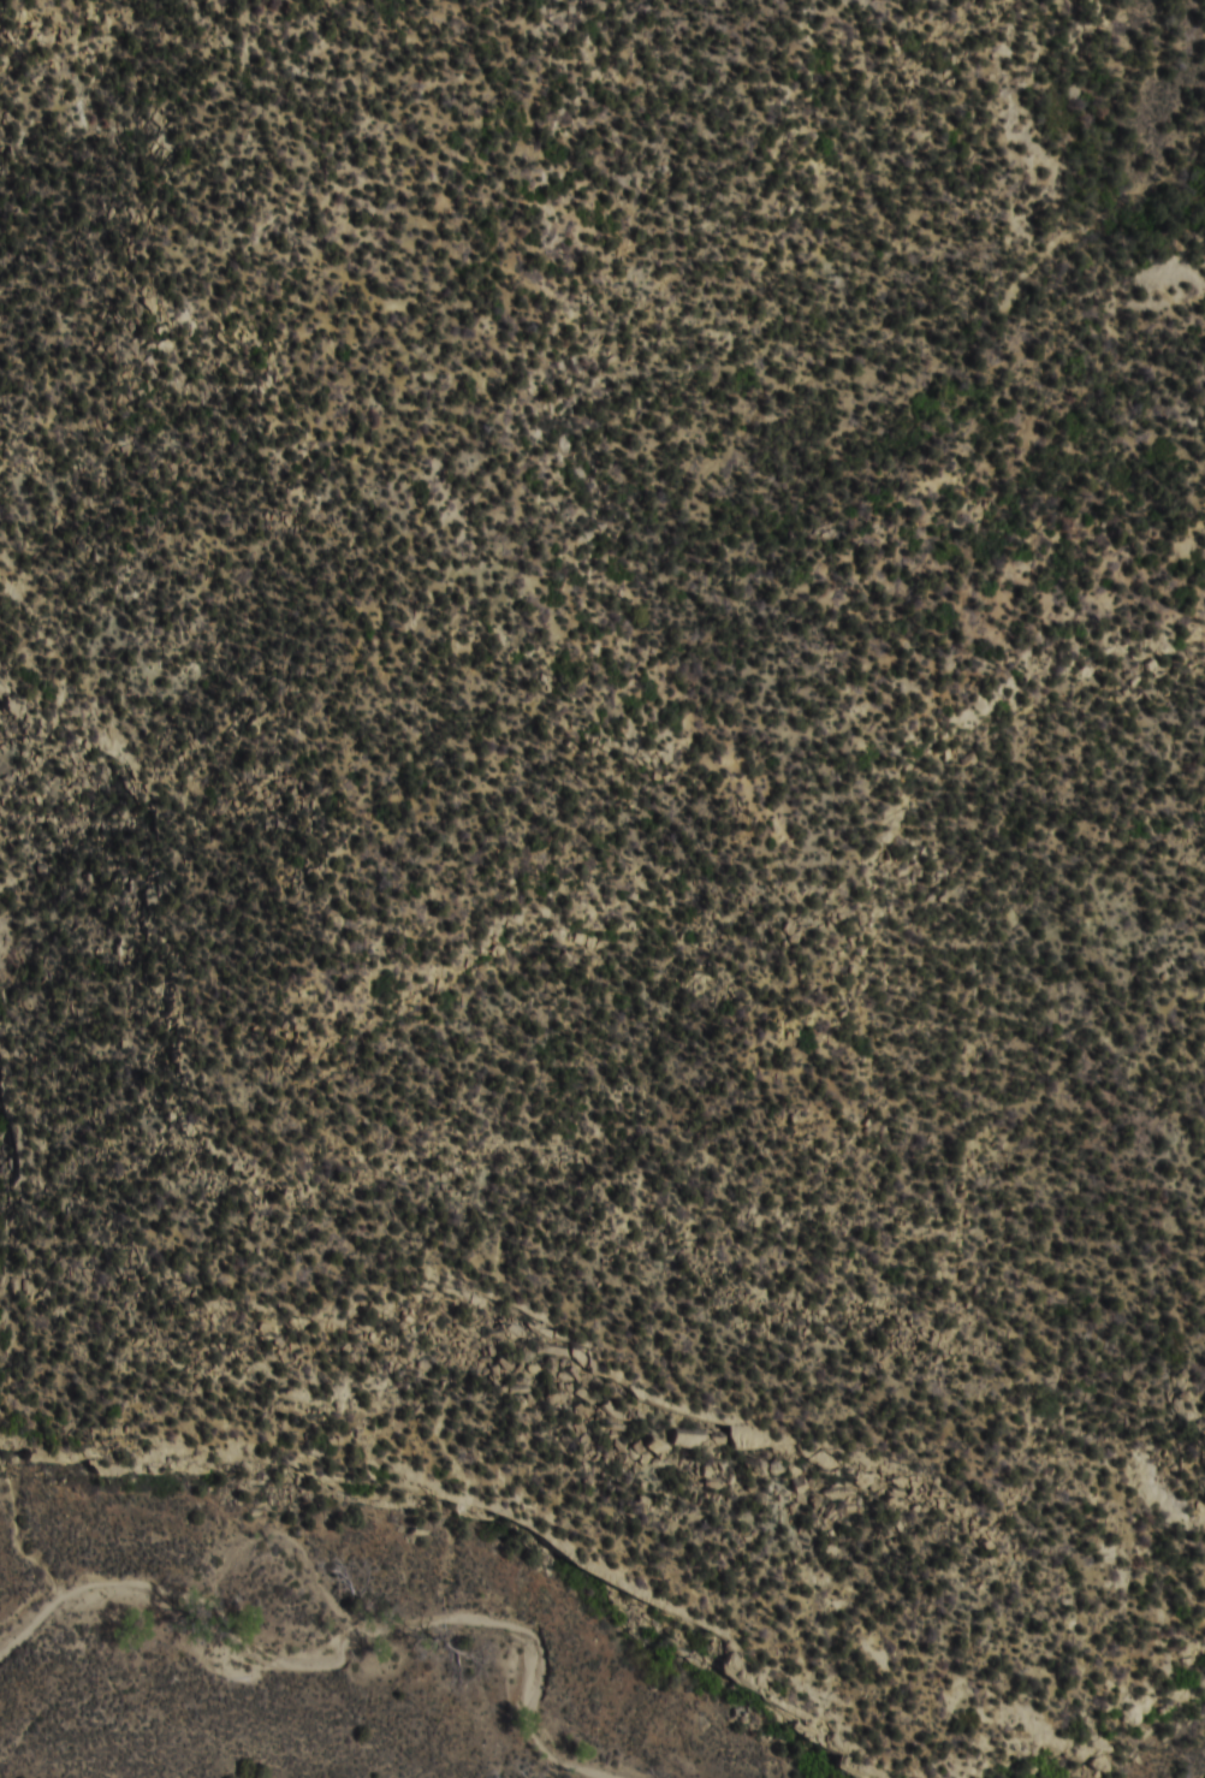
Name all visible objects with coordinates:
river: (348, 1608)

